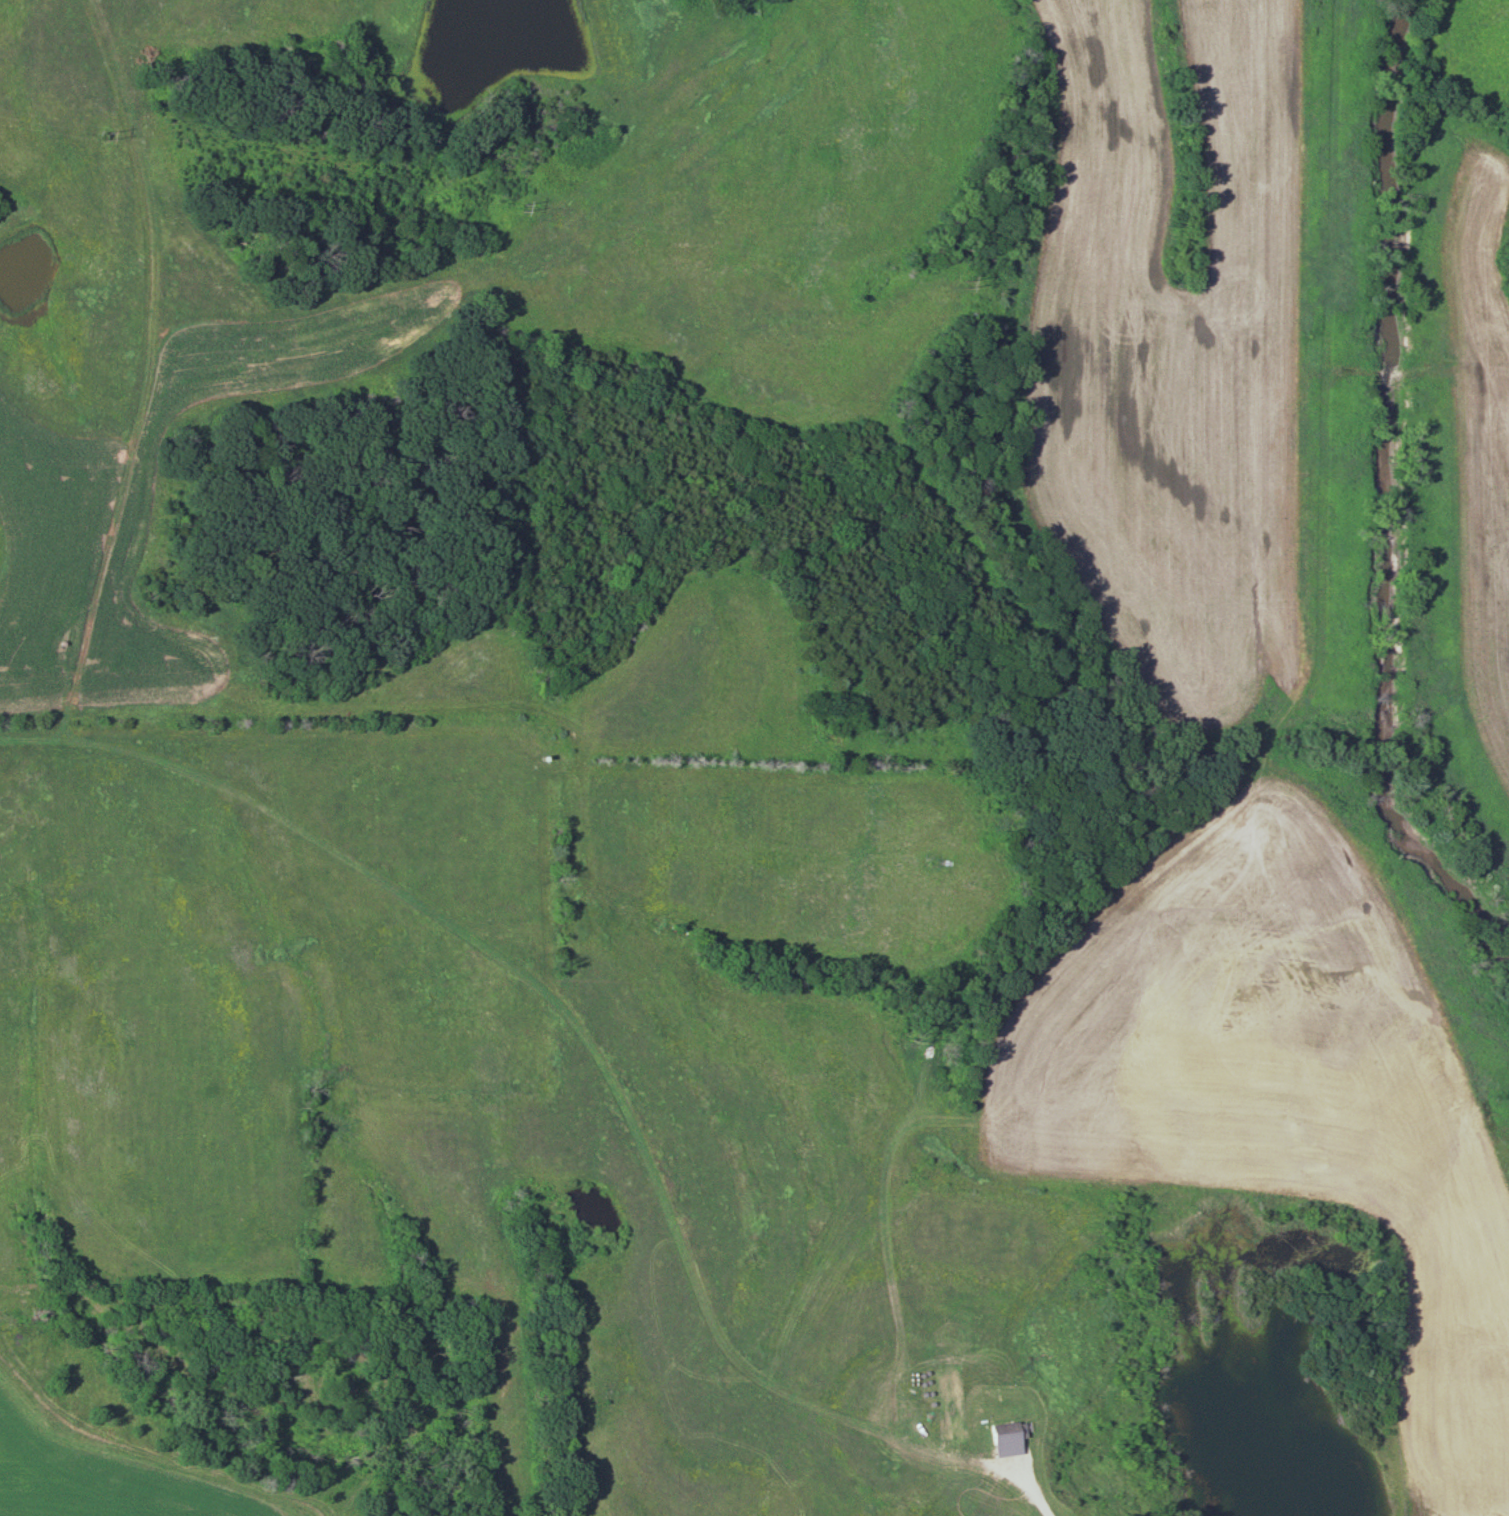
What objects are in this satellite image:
building: (1006, 1442)

